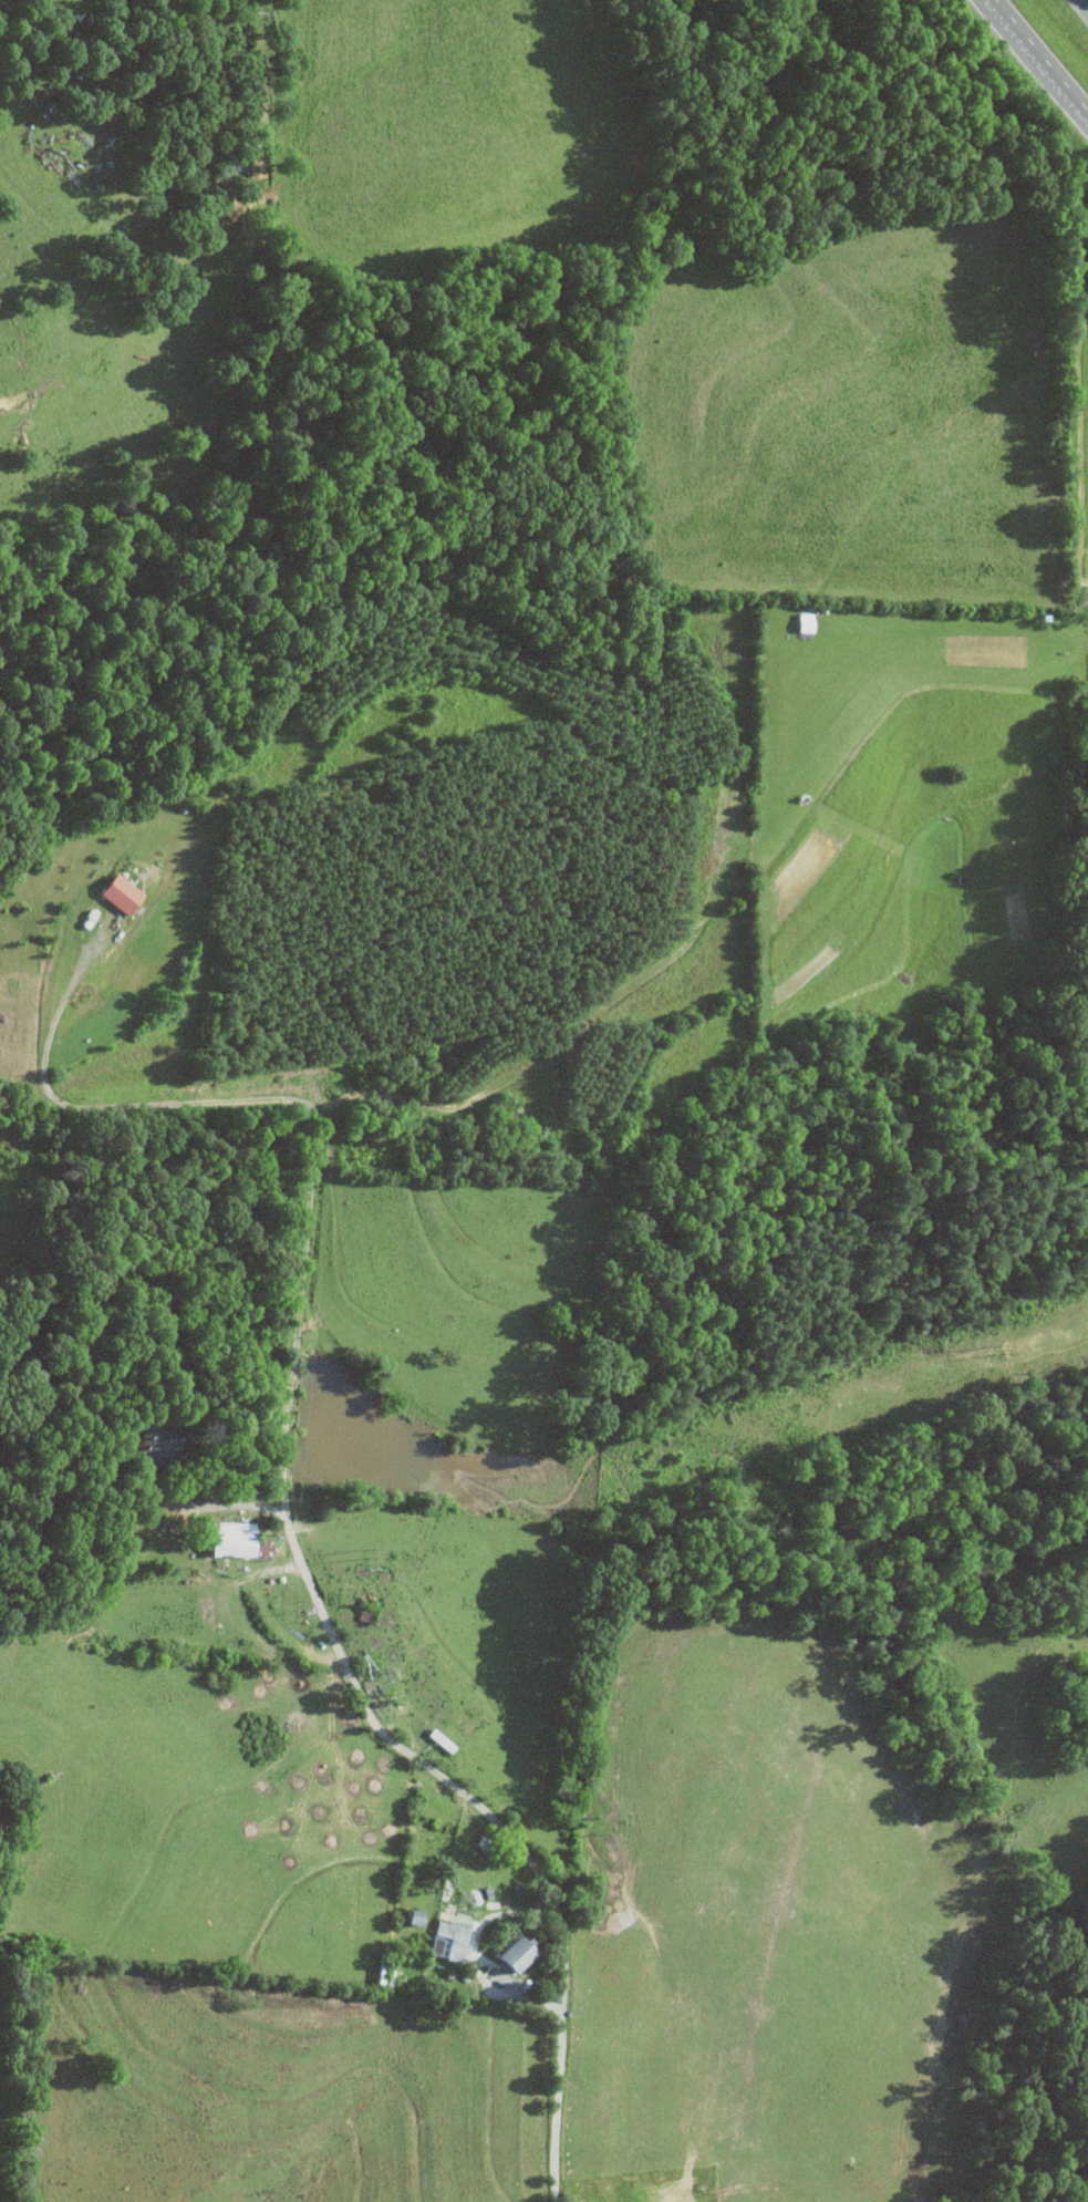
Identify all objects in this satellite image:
road: (1047, 50)
building: (801, 621)
building: (116, 892)
road: (124, 1105)
building: (149, 1444)
road: (226, 1510)
building: (228, 1539)
road: (365, 1699)
building: (447, 1939)
building: (511, 1952)
road: (474, 1953)

